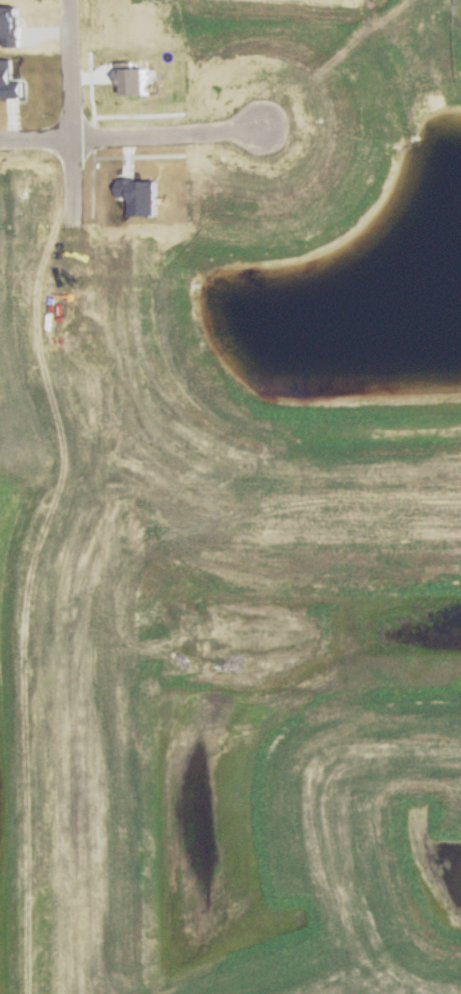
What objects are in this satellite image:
building: (9, 26)
building: (129, 78)
building: (7, 81)
road: (61, 105)
road: (128, 144)
building: (138, 196)

